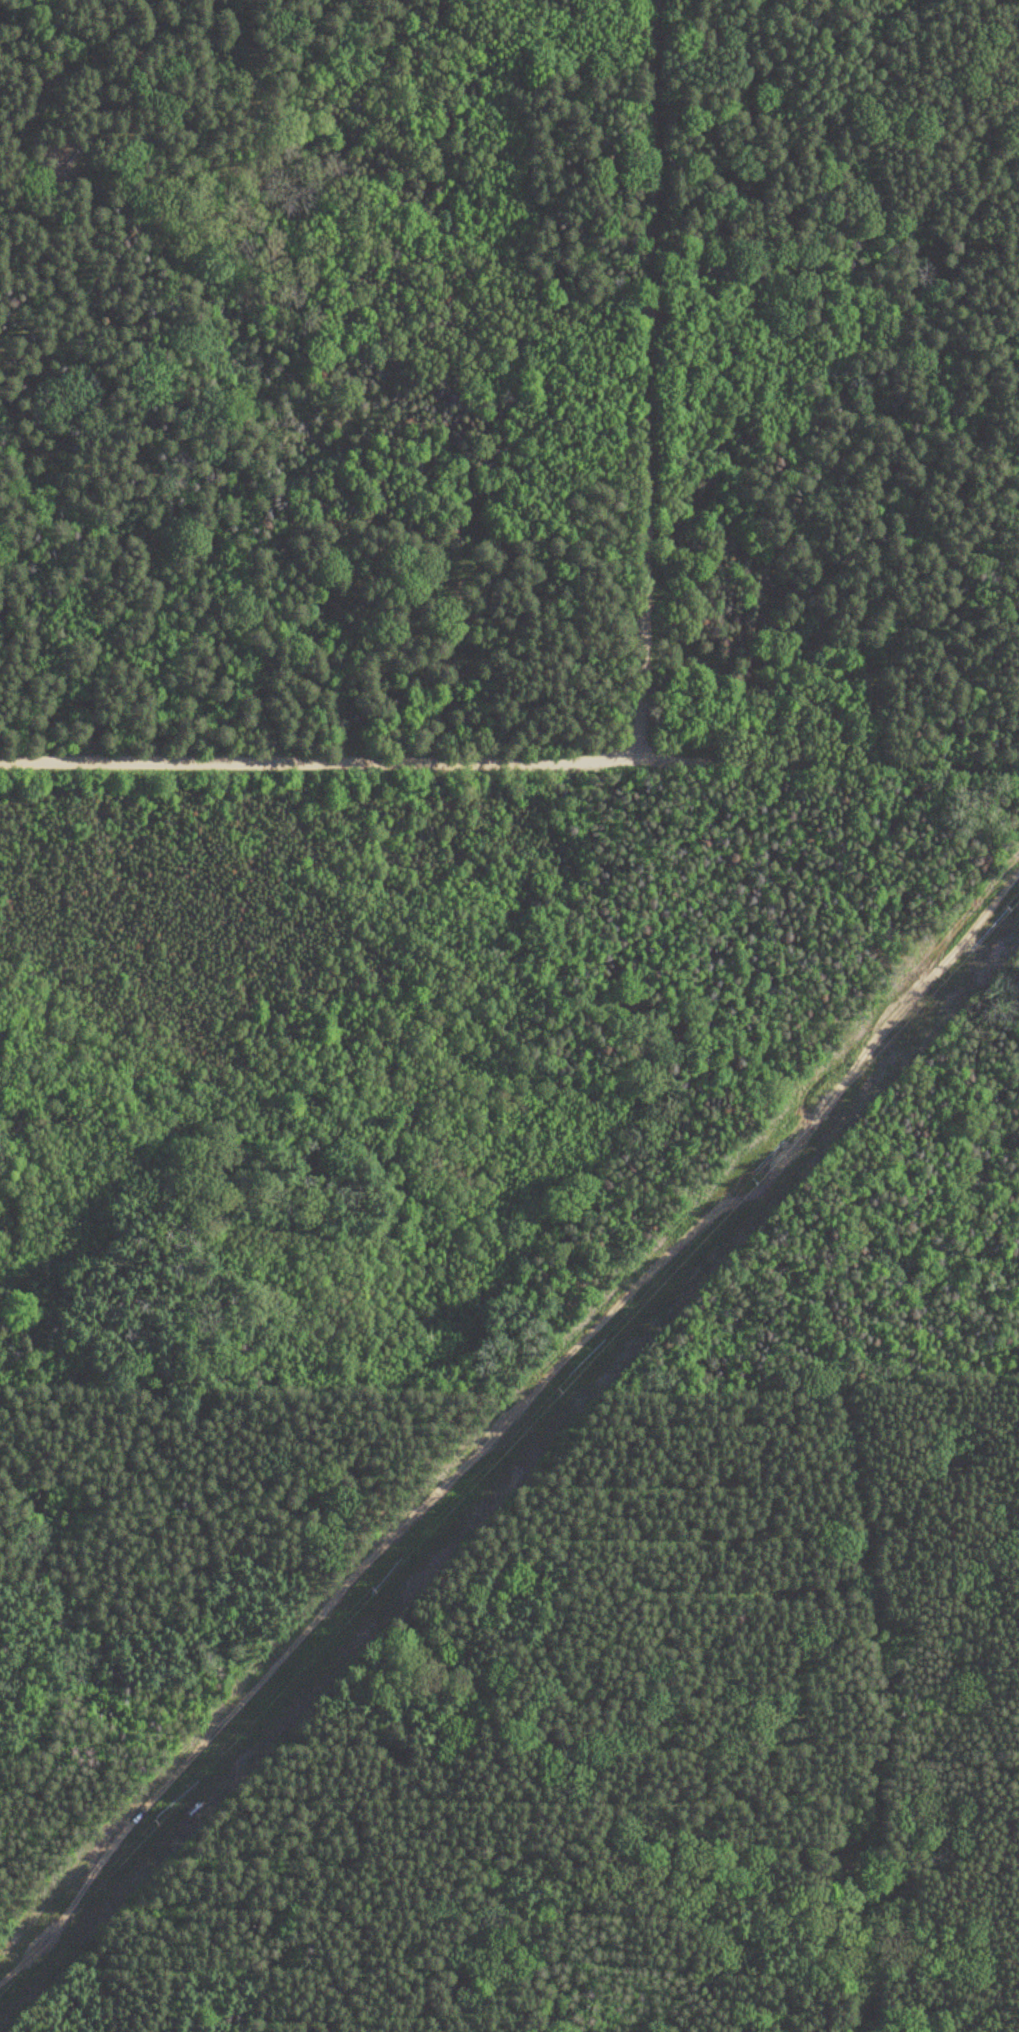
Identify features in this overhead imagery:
road: (646, 379)
road: (509, 759)
park: (509, 1016)

